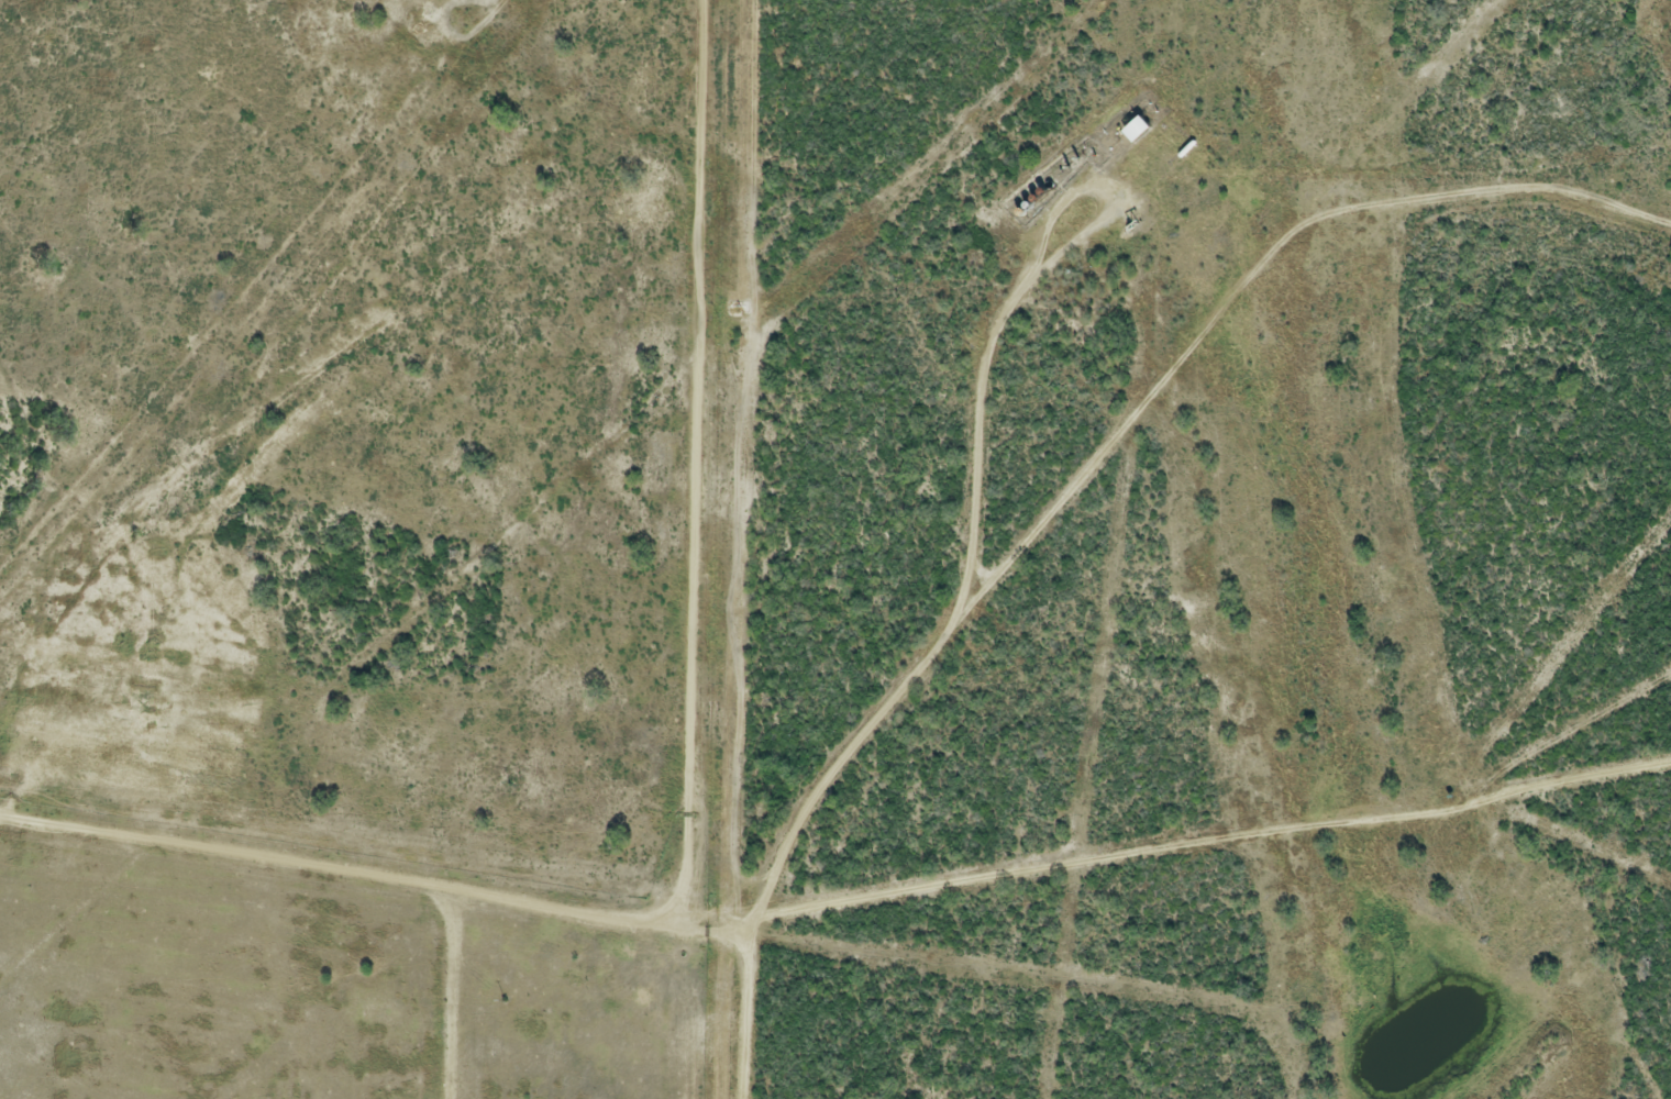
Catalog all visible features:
building: (1132, 127)
petroleum well: (1126, 223)

